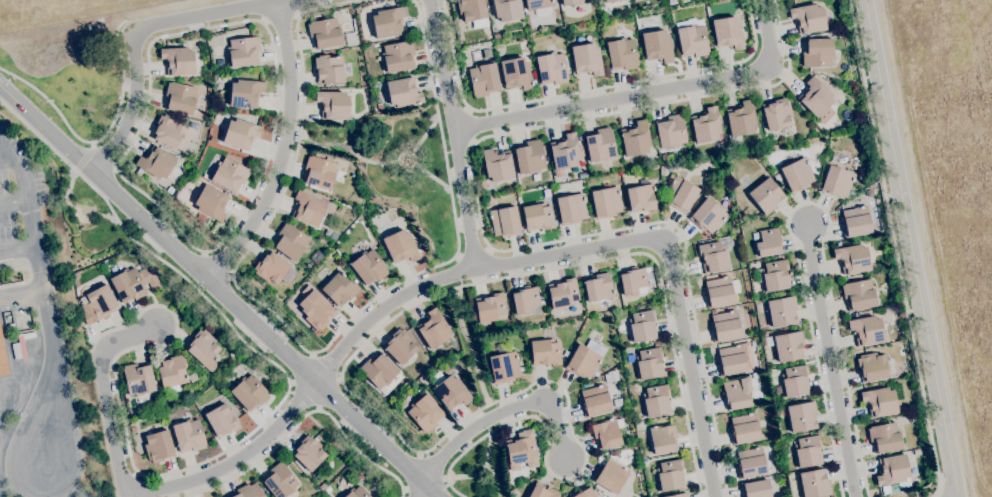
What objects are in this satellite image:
building: (610, 1)
building: (672, 1)
building: (571, 2)
road: (324, 5)
building: (539, 7)
building: (507, 9)
building: (631, 10)
building: (472, 12)
road: (207, 14)
road: (279, 18)
building: (807, 19)
building: (388, 22)
road: (204, 29)
building: (325, 33)
building: (727, 33)
building: (496, 36)
building: (691, 38)
building: (657, 46)
building: (243, 52)
building: (817, 52)
building: (621, 54)
road: (453, 56)
building: (398, 57)
building: (586, 59)
building: (177, 60)
building: (551, 68)
building: (329, 69)
building: (516, 73)
park: (72, 74)
building: (217, 77)
building: (483, 79)
road: (638, 80)
building: (219, 85)
building: (403, 92)
building: (245, 93)
road: (647, 93)
building: (180, 97)
building: (378, 99)
building: (816, 100)
building: (333, 105)
road: (132, 106)
building: (378, 107)
building: (777, 114)
building: (741, 119)
building: (706, 125)
road: (439, 127)
building: (168, 131)
building: (670, 131)
building: (240, 134)
road: (454, 135)
building: (635, 139)
building: (213, 140)
road: (96, 141)
building: (600, 144)
road: (282, 151)
building: (564, 152)
road: (83, 156)
road: (6, 157)
building: (529, 157)
building: (664, 157)
building: (679, 158)
building: (406, 160)
building: (156, 162)
building: (497, 164)
building: (319, 172)
park: (402, 173)
building: (229, 175)
building: (797, 175)
building: (777, 177)
building: (711, 179)
building: (195, 181)
building: (837, 182)
building: (869, 193)
building: (680, 194)
building: (766, 195)
building: (641, 198)
building: (606, 202)
road: (16, 203)
building: (211, 203)
road: (808, 204)
building: (308, 209)
building: (571, 209)
building: (333, 211)
building: (707, 216)
building: (538, 217)
building: (504, 222)
building: (855, 222)
park: (92, 226)
road: (482, 229)
building: (333, 236)
building: (290, 242)
building: (768, 242)
building: (400, 247)
road: (597, 247)
road: (911, 248)
building: (355, 249)
road: (896, 249)
road: (20, 250)
building: (713, 257)
building: (852, 259)
road: (218, 263)
building: (368, 267)
building: (274, 269)
building: (772, 276)
building: (633, 280)
road: (234, 281)
building: (151, 283)
building: (128, 285)
building: (598, 286)
building: (339, 288)
building: (720, 291)
road: (219, 292)
building: (562, 293)
building: (858, 295)
building: (525, 300)
building: (101, 302)
road: (45, 308)
building: (490, 309)
building: (316, 310)
building: (782, 311)
building: (642, 326)
building: (725, 326)
building: (433, 329)
building: (866, 330)
road: (94, 339)
building: (399, 346)
building: (788, 346)
road: (471, 347)
building: (203, 349)
building: (544, 352)
building: (565, 353)
building: (233, 354)
building: (3, 357)
building: (585, 359)
building: (731, 360)
road: (830, 360)
building: (649, 363)
building: (504, 364)
road: (326, 365)
building: (871, 367)
road: (301, 368)
building: (378, 371)
building: (174, 374)
building: (611, 376)
building: (138, 379)
road: (341, 380)
building: (794, 381)
building: (407, 383)
building: (450, 391)
building: (249, 392)
road: (328, 392)
building: (737, 393)
road: (105, 394)
road: (303, 396)
building: (656, 400)
building: (595, 401)
building: (618, 402)
building: (879, 402)
building: (393, 408)
road: (504, 411)
building: (425, 413)
road: (268, 415)
building: (801, 416)
building: (222, 419)
road: (300, 419)
building: (134, 429)
building: (744, 429)
building: (606, 433)
building: (189, 435)
building: (885, 437)
building: (662, 439)
building: (159, 446)
building: (522, 451)
building: (807, 451)
building: (309, 452)
building: (916, 452)
building: (614, 453)
building: (642, 456)
road: (234, 460)
building: (750, 463)
building: (892, 471)
building: (670, 475)
building: (610, 476)
building: (280, 481)
building: (814, 483)
road: (139, 484)
building: (322, 486)
road: (420, 489)
building: (755, 489)
building: (327, 490)
building: (542, 491)
building: (243, 492)
building: (357, 492)
road: (408, 493)
building: (585, 493)
building: (679, 495)
road: (935, 496)

